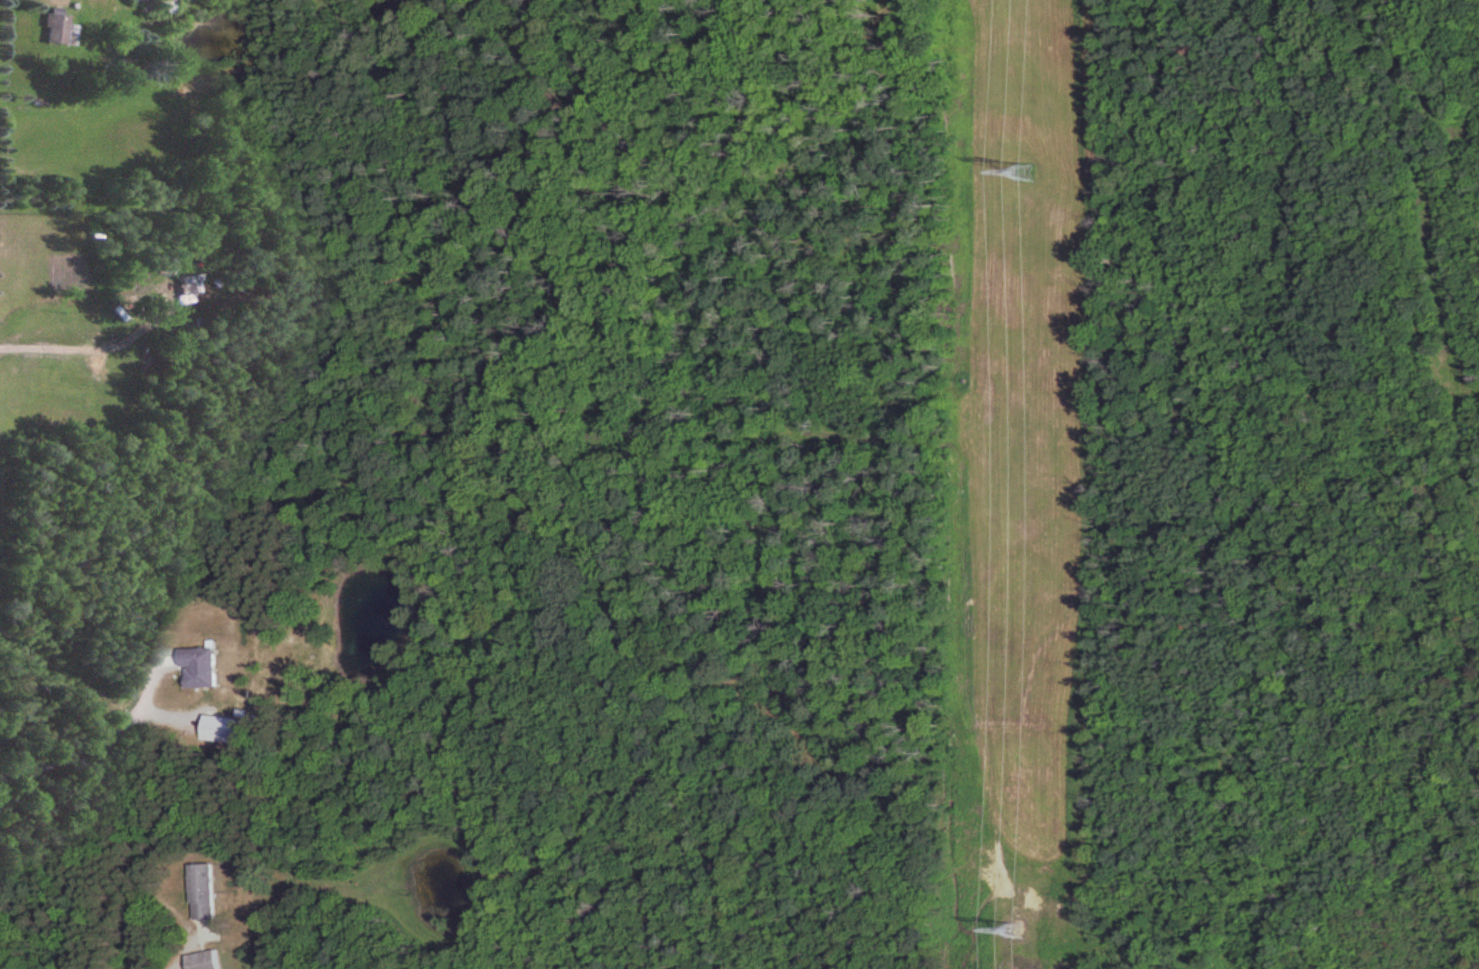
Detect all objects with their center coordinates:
building: (145, 1)
building: (61, 28)
power tower: (1024, 174)
building: (198, 281)
building: (96, 354)
building: (206, 666)
road: (91, 733)
building: (207, 891)
power tower: (1012, 931)
building: (207, 960)

